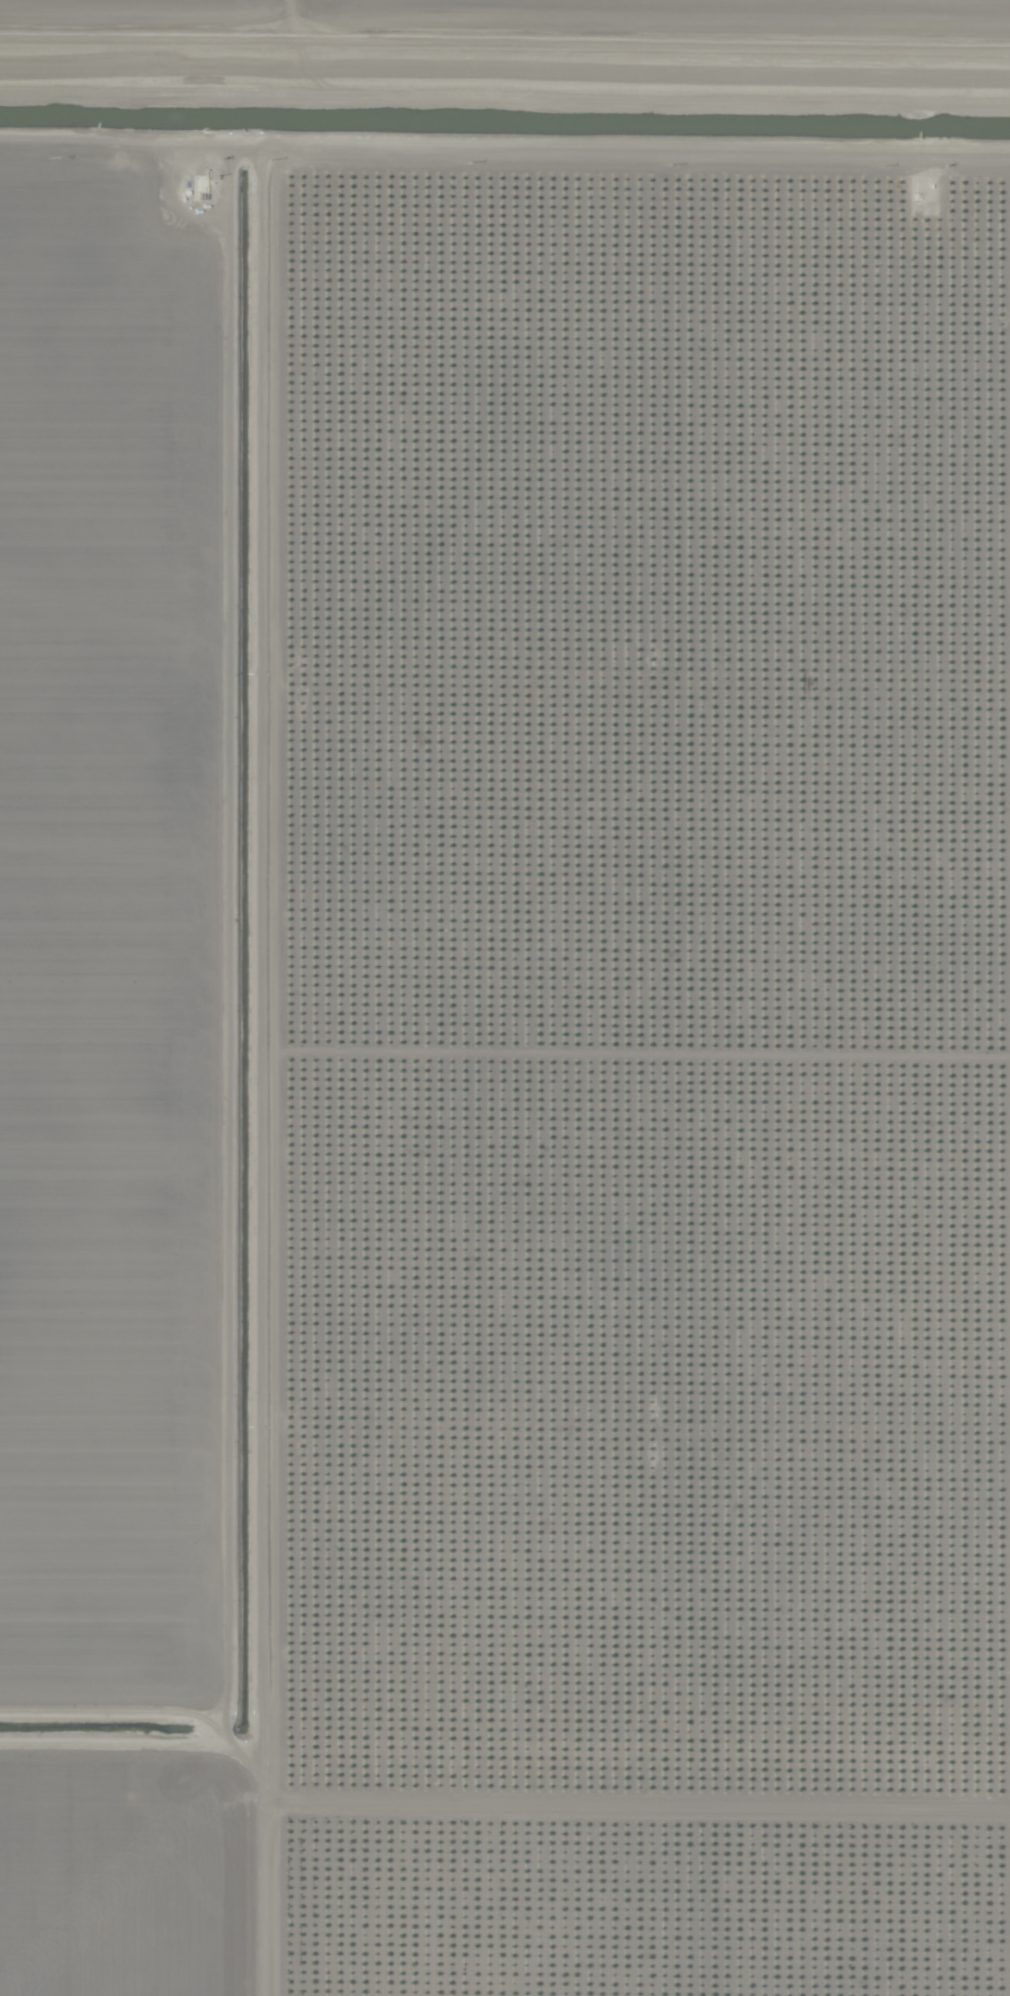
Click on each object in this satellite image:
road: (257, 15)
road: (505, 33)
road: (504, 172)
crop: (505, 998)
road: (261, 1083)

